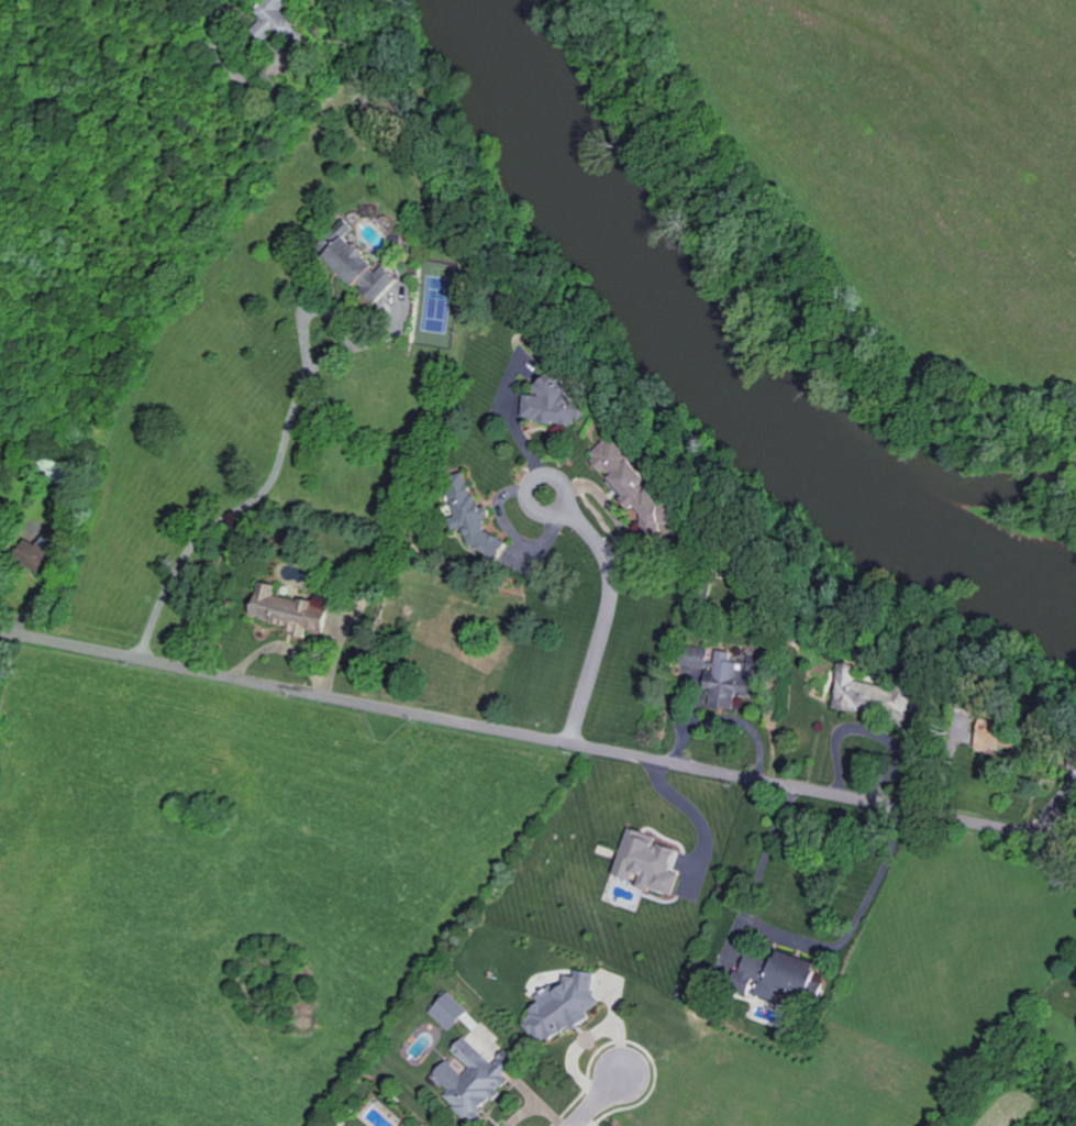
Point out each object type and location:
road: (197, 2)
building: (279, 21)
building: (365, 269)
river: (701, 375)
building: (556, 402)
road: (271, 482)
road: (547, 482)
building: (637, 482)
building: (477, 521)
building: (292, 611)
road: (603, 631)
building: (450, 645)
building: (724, 675)
building: (867, 693)
road: (537, 738)
building: (996, 739)
road: (696, 818)
building: (652, 861)
road: (786, 938)
building: (783, 975)
building: (579, 1007)
building: (468, 1008)
building: (452, 1009)
building: (491, 1086)
road: (610, 1103)

